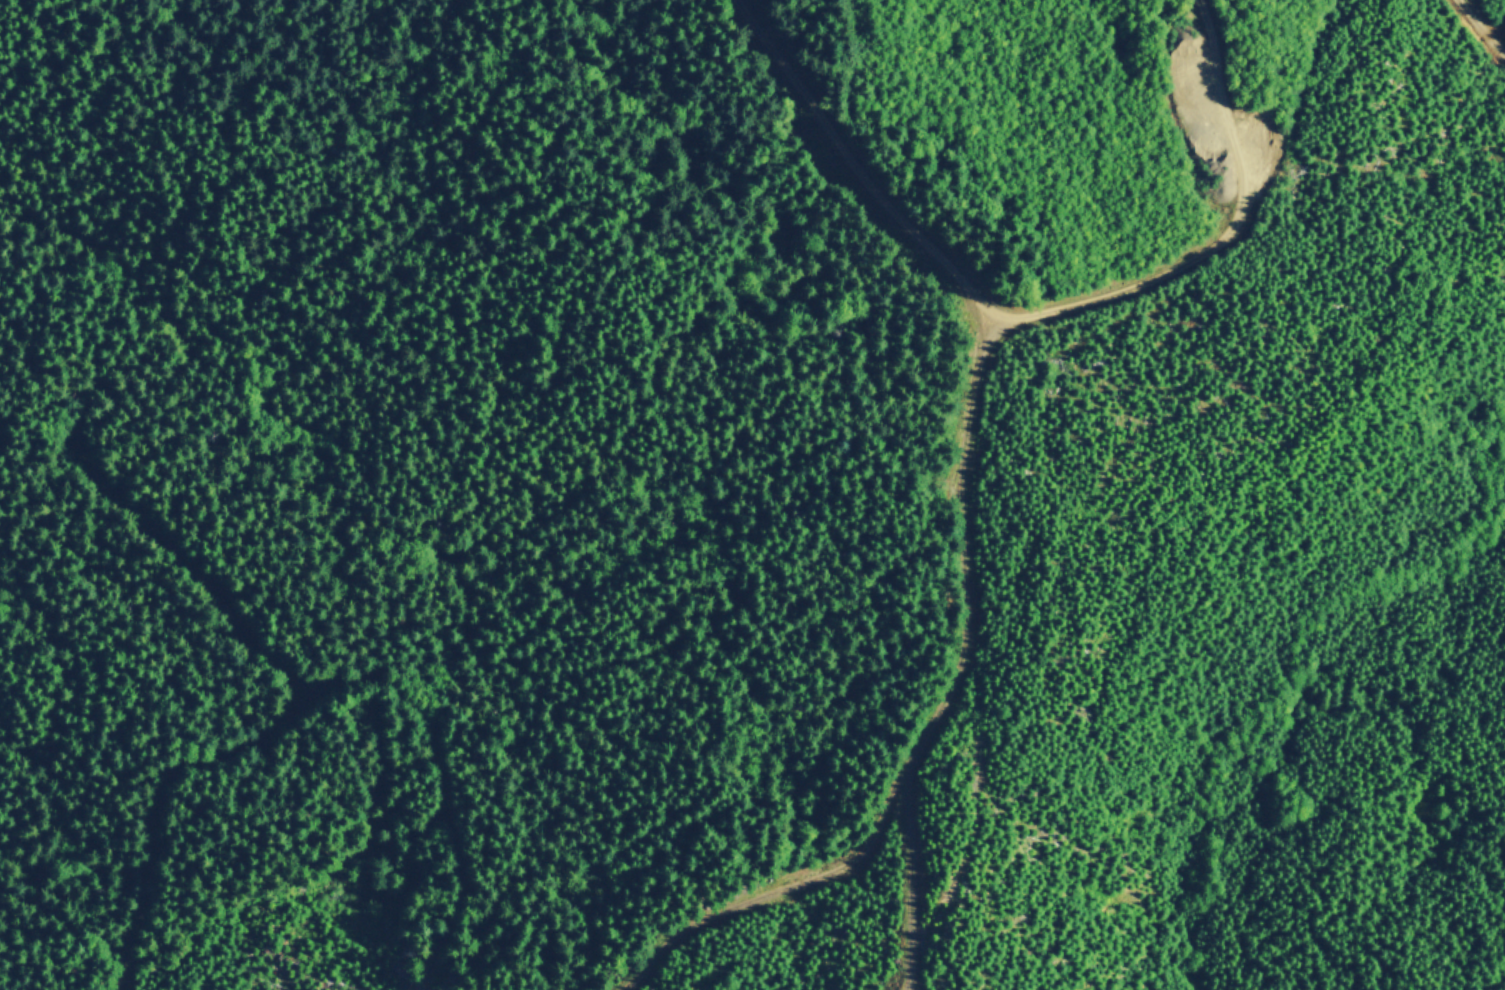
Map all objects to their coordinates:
road: (10, 4)
road: (1017, 437)

